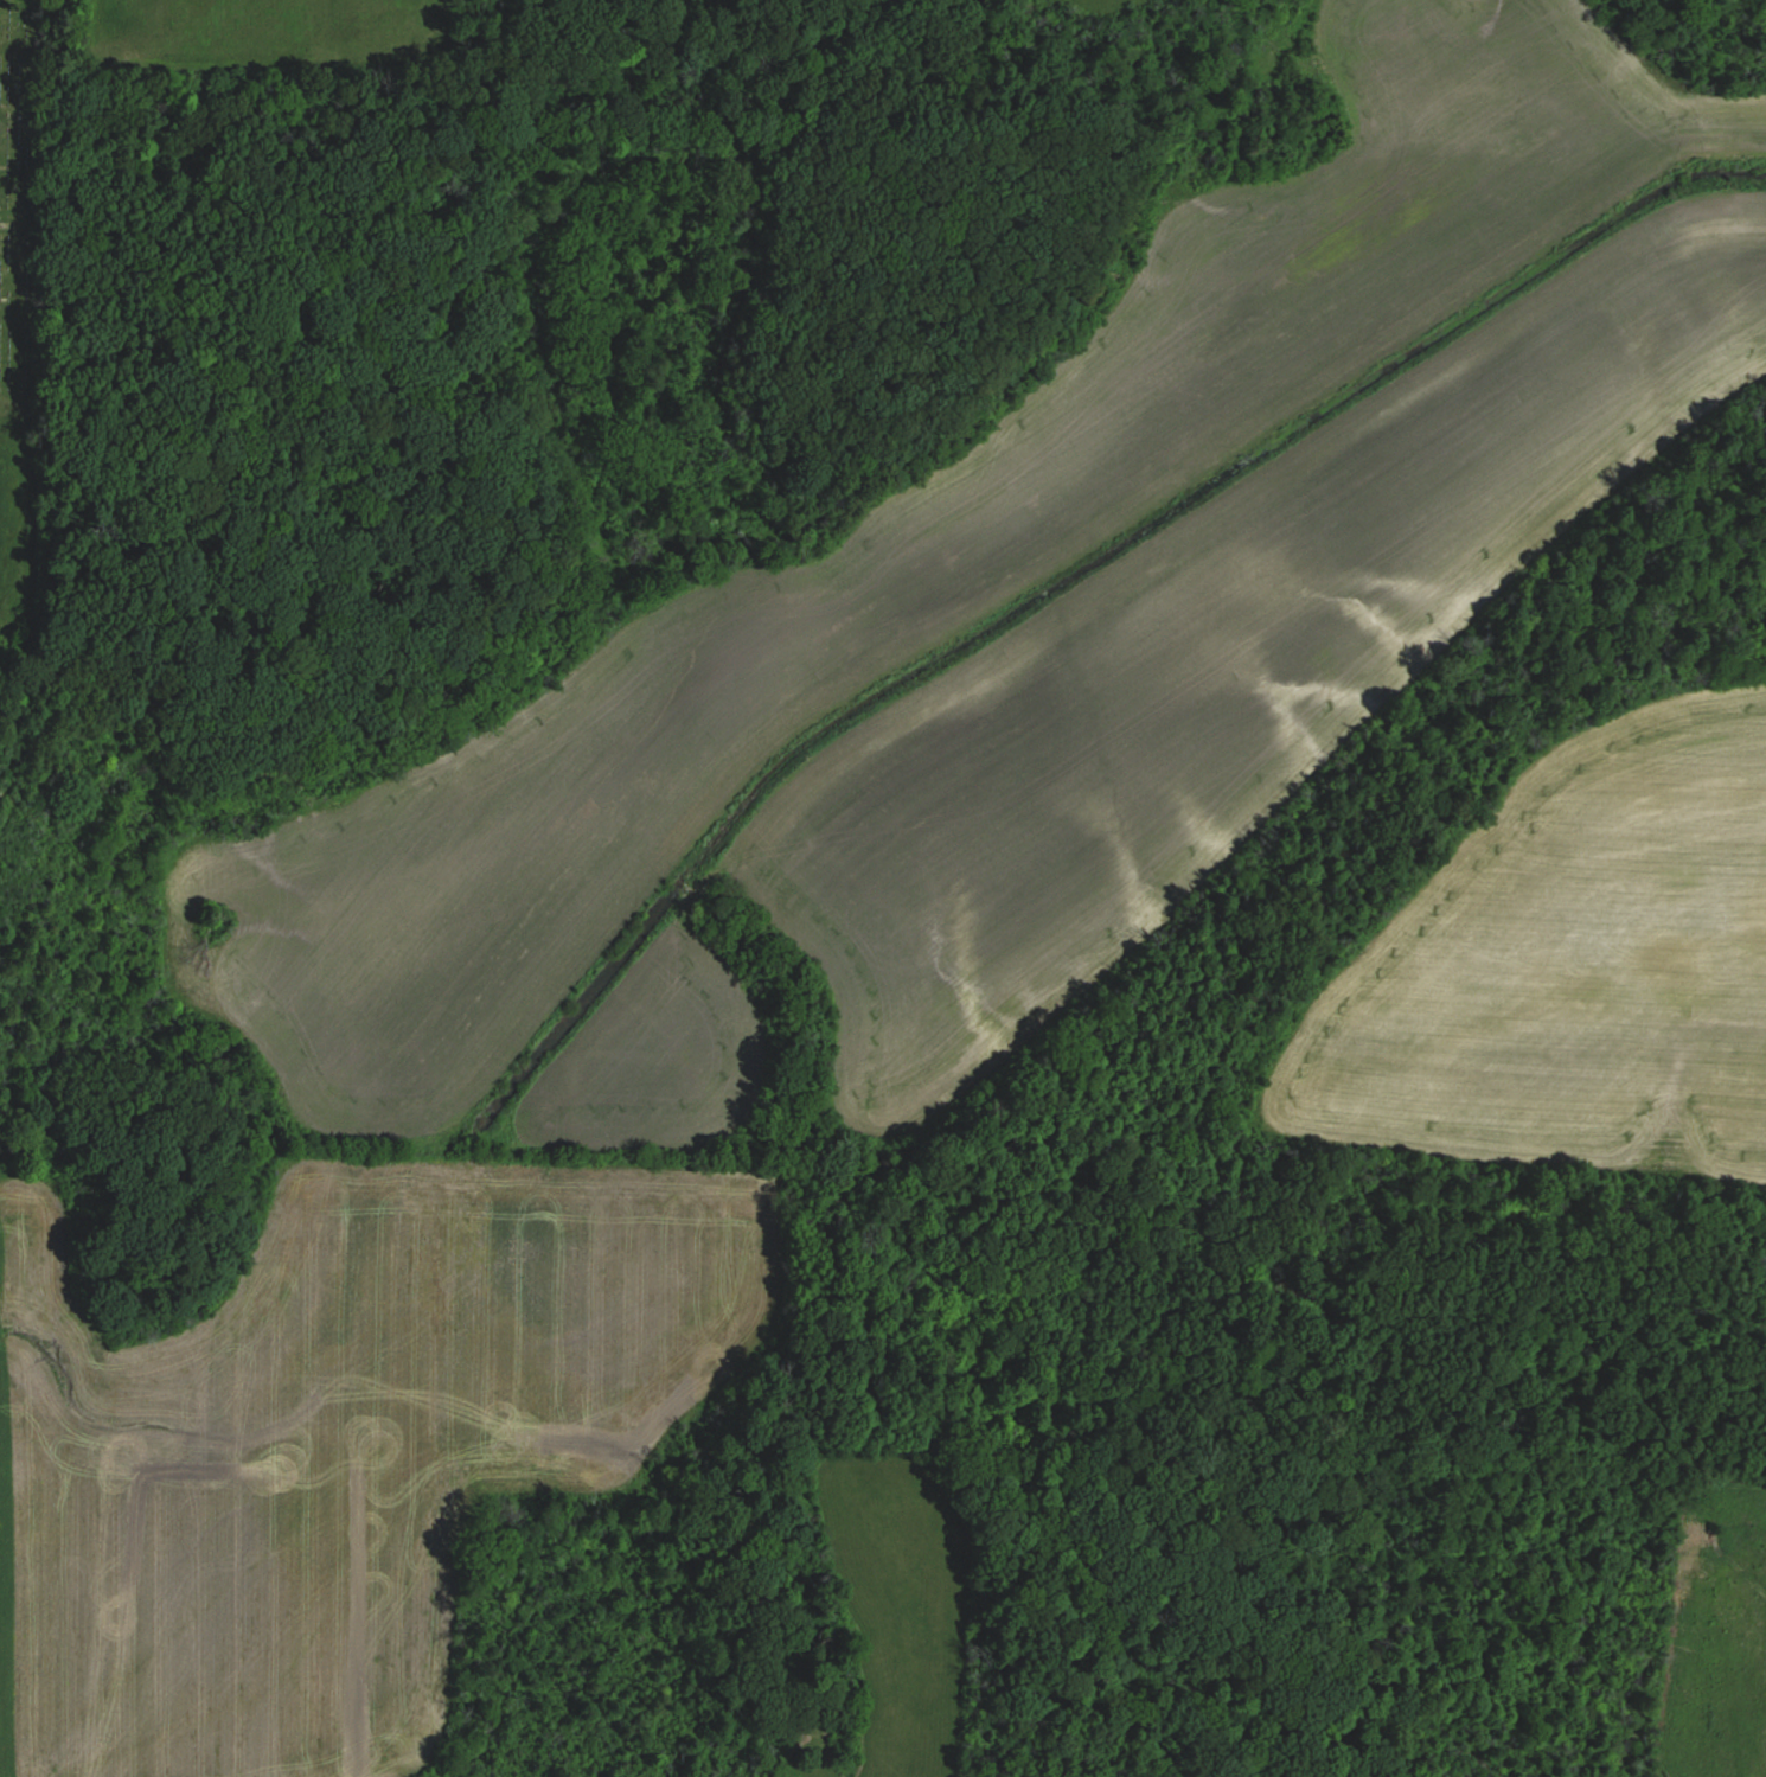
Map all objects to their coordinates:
park: (15, 343)

